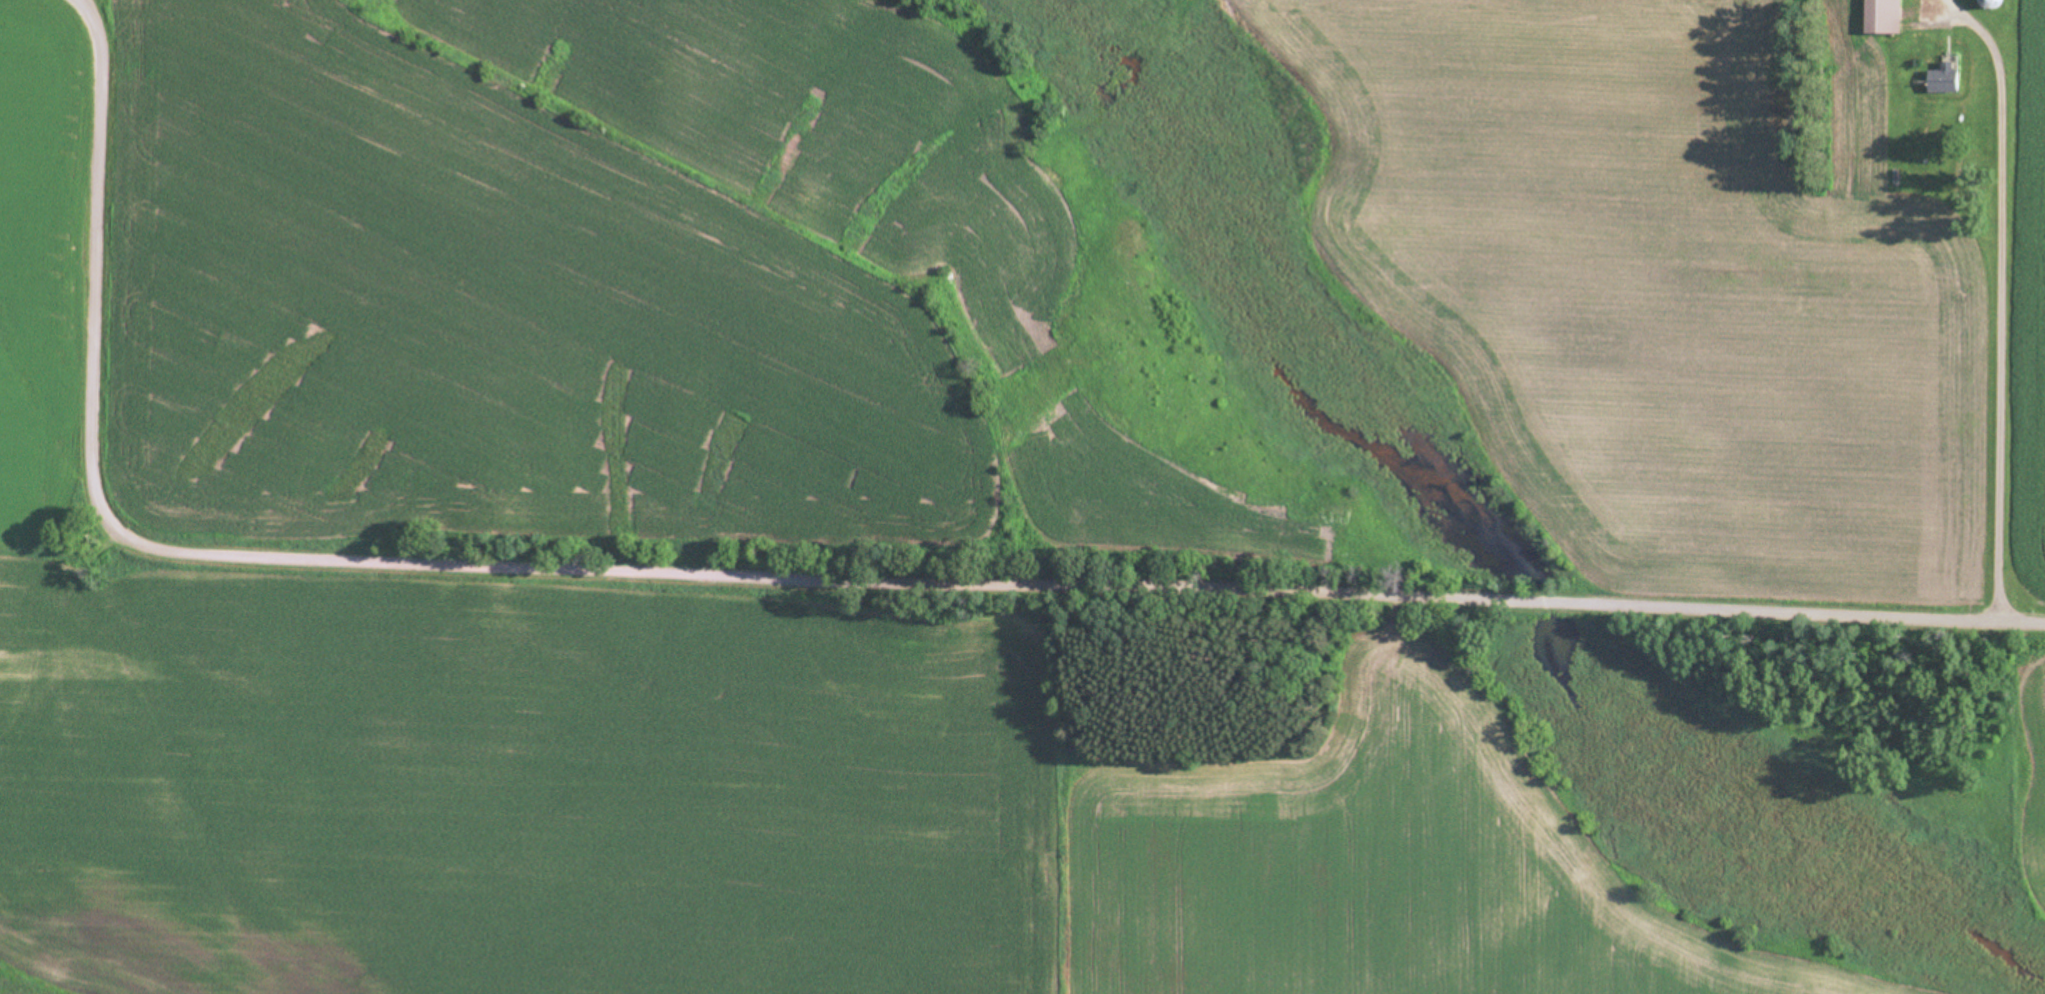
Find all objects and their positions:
building: (1987, 4)
building: (1881, 17)
road: (1981, 35)
building: (1943, 79)
road: (1999, 353)
road: (807, 575)

